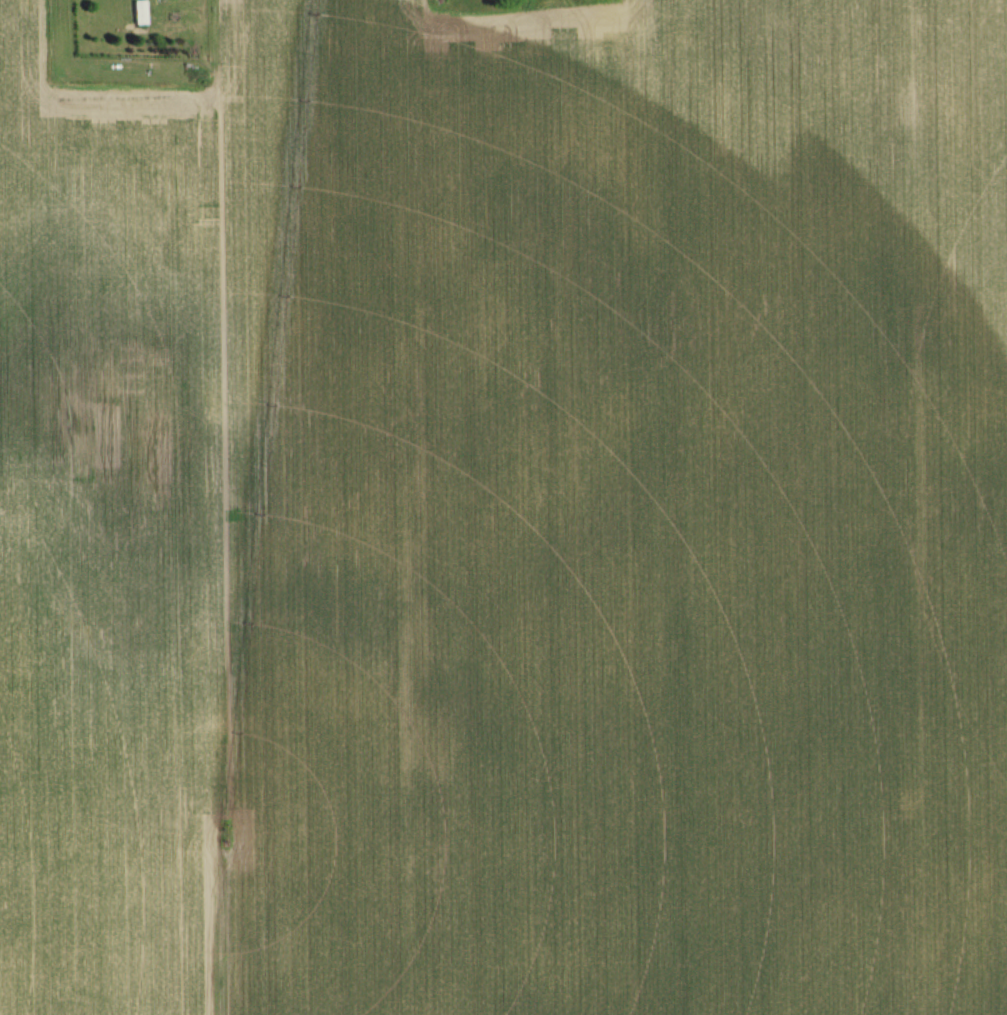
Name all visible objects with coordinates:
building: (139, 12)

